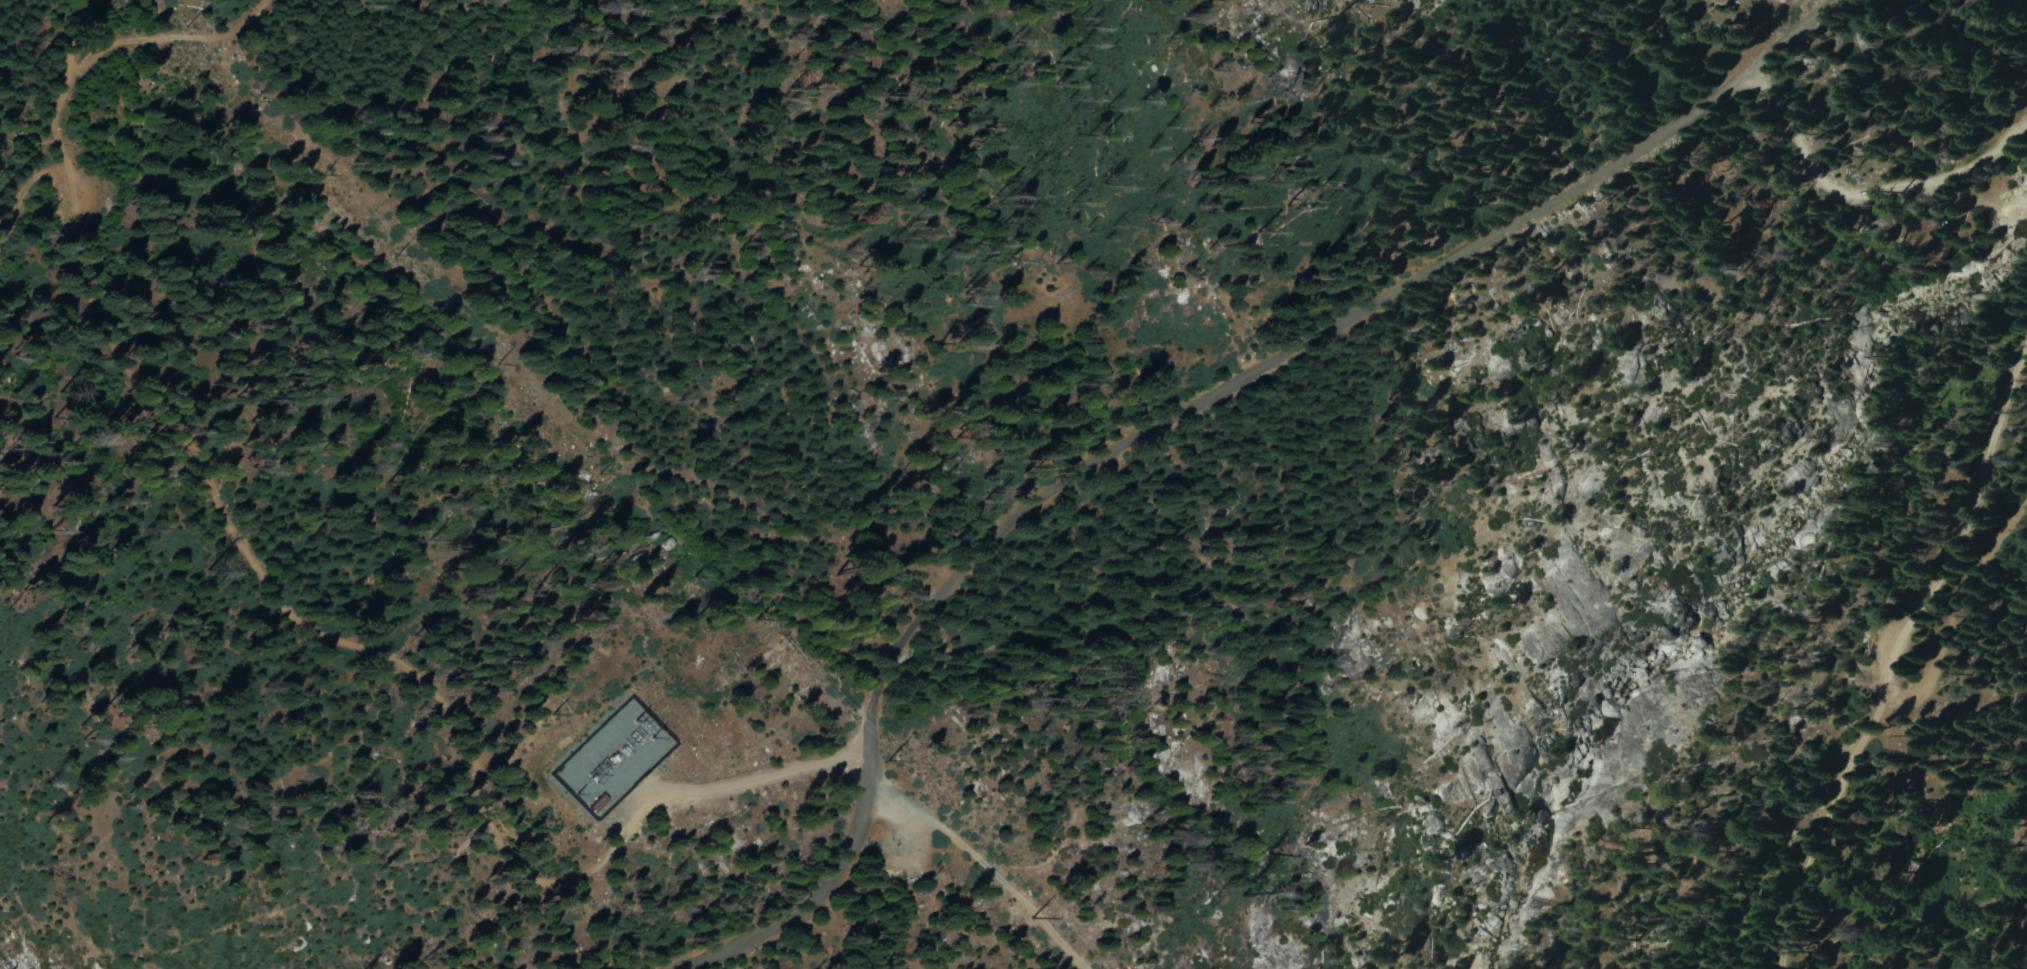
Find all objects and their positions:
road: (1785, 37)
power tower: (317, 180)
road: (1866, 195)
power tower: (385, 250)
road: (1279, 357)
power tower: (493, 364)
road: (1987, 450)
road: (1992, 538)
power tower: (686, 570)
river: (1704, 611)
power tower: (759, 630)
road: (1863, 749)
power tower: (885, 758)
power substation: (609, 761)
road: (756, 779)
road: (985, 864)
road: (836, 881)
power tower: (1025, 915)

